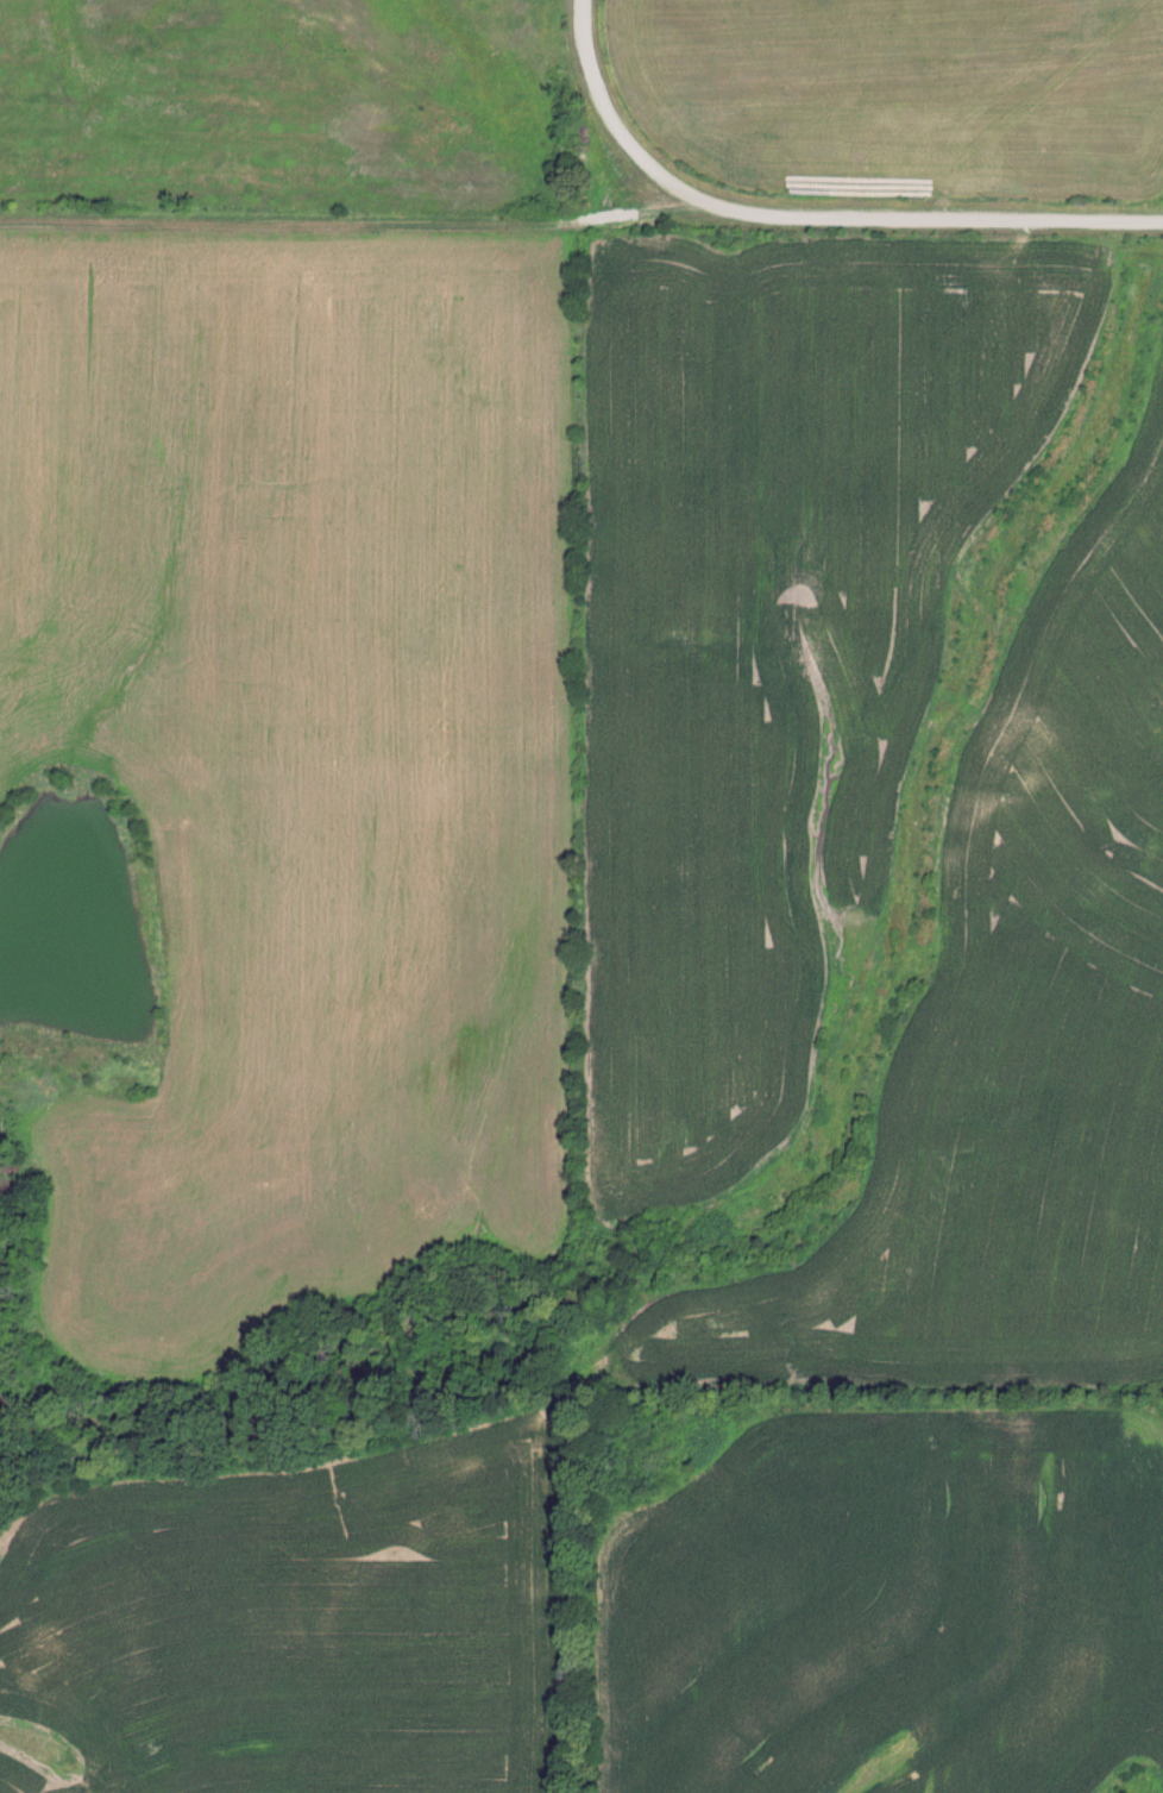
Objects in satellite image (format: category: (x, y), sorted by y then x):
road: (589, 70)
road: (878, 219)

